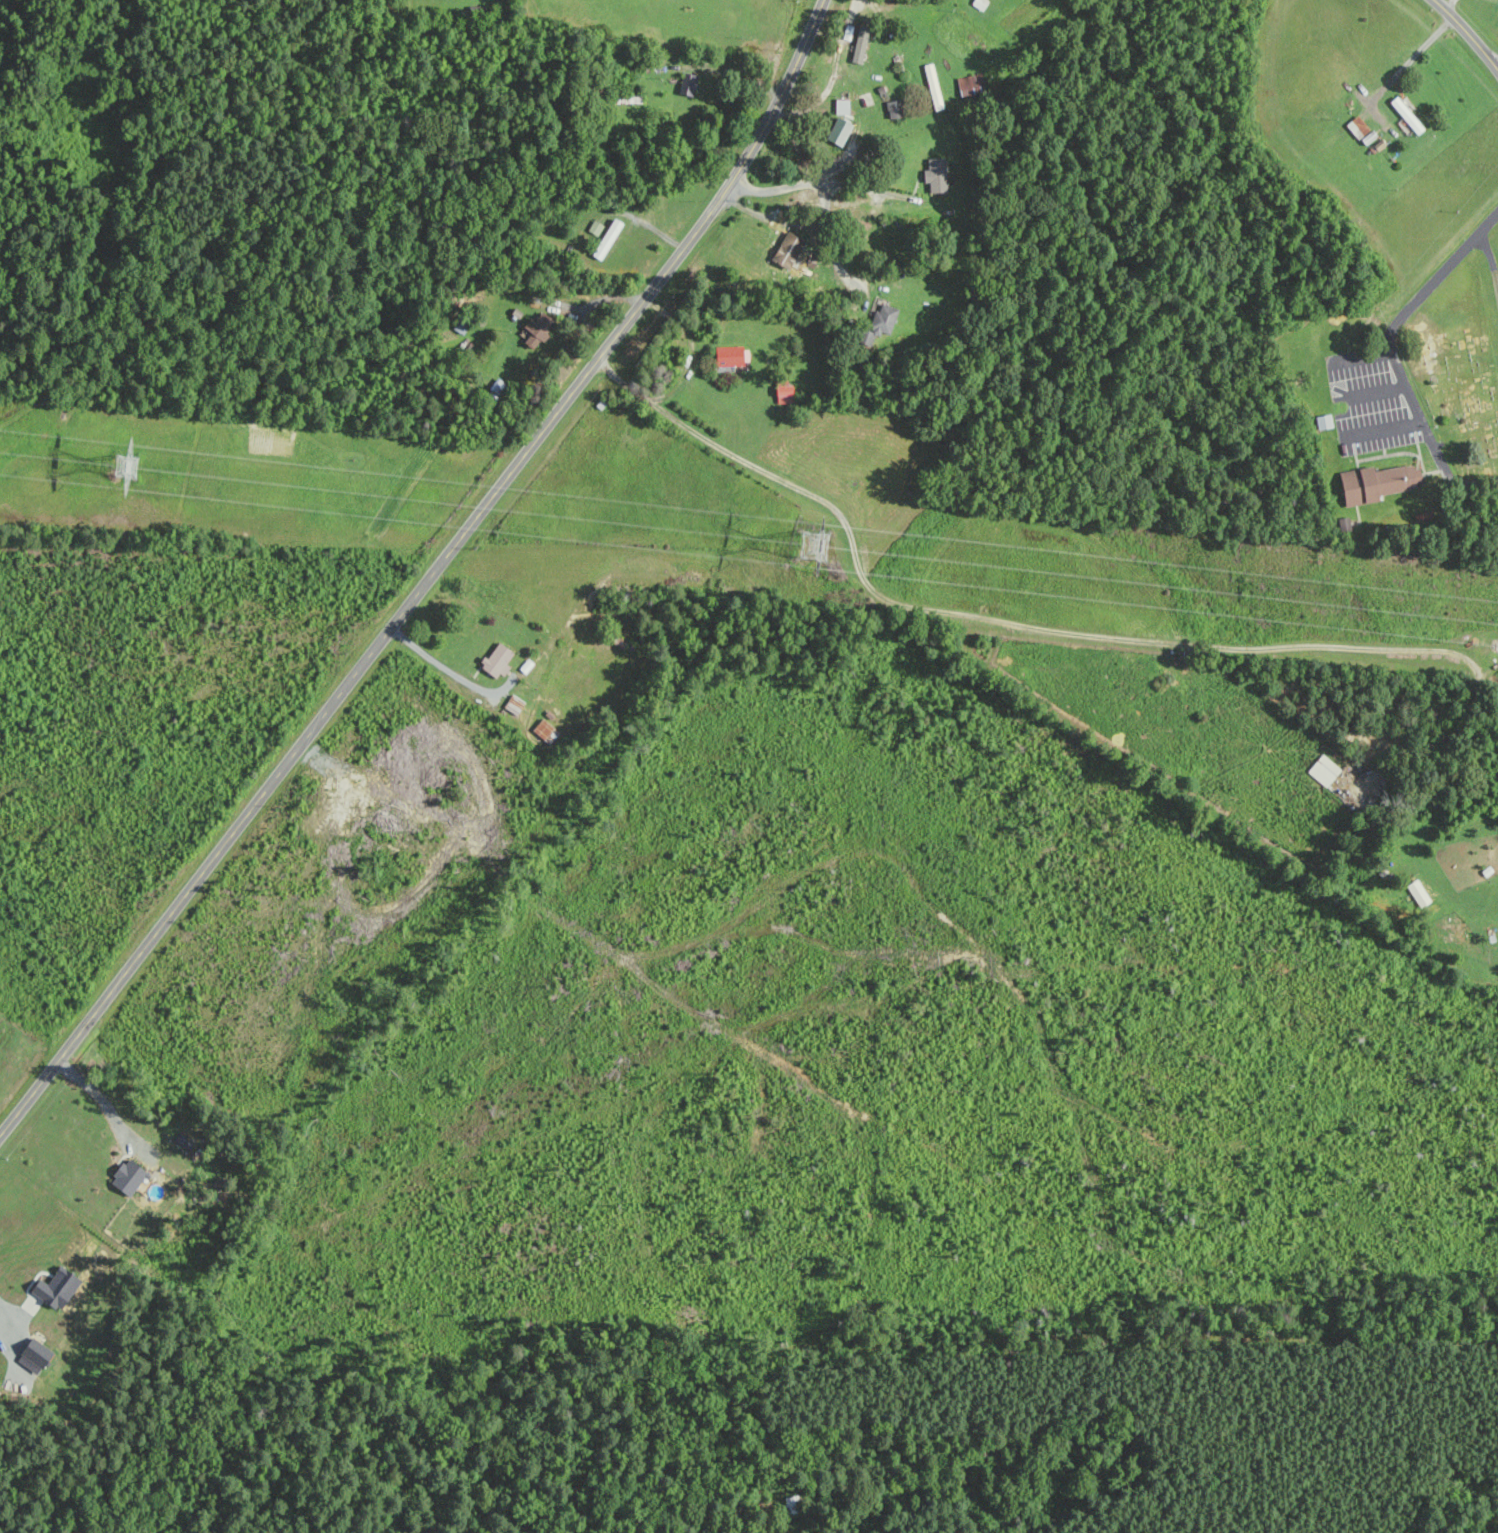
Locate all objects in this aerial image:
road: (1449, 6)
road: (1466, 34)
building: (858, 48)
road: (1410, 57)
road: (836, 75)
building: (841, 107)
building: (892, 109)
building: (1405, 115)
building: (1356, 127)
building: (837, 132)
building: (936, 175)
road: (862, 188)
road: (820, 196)
building: (605, 239)
building: (778, 254)
road: (1490, 260)
road: (560, 305)
building: (878, 323)
building: (537, 331)
road: (692, 348)
road: (1360, 355)
road: (1391, 355)
building: (730, 356)
road: (1375, 391)
building: (1323, 422)
road: (1382, 428)
power tower: (125, 466)
building: (1376, 483)
power tower: (805, 546)
road: (429, 578)
road: (1072, 632)
building: (496, 660)
road: (447, 669)
building: (512, 704)
building: (545, 732)
building: (1323, 770)
building: (1417, 892)
road: (107, 1108)
building: (126, 1176)
building: (53, 1289)
road: (5, 1326)
building: (32, 1355)

